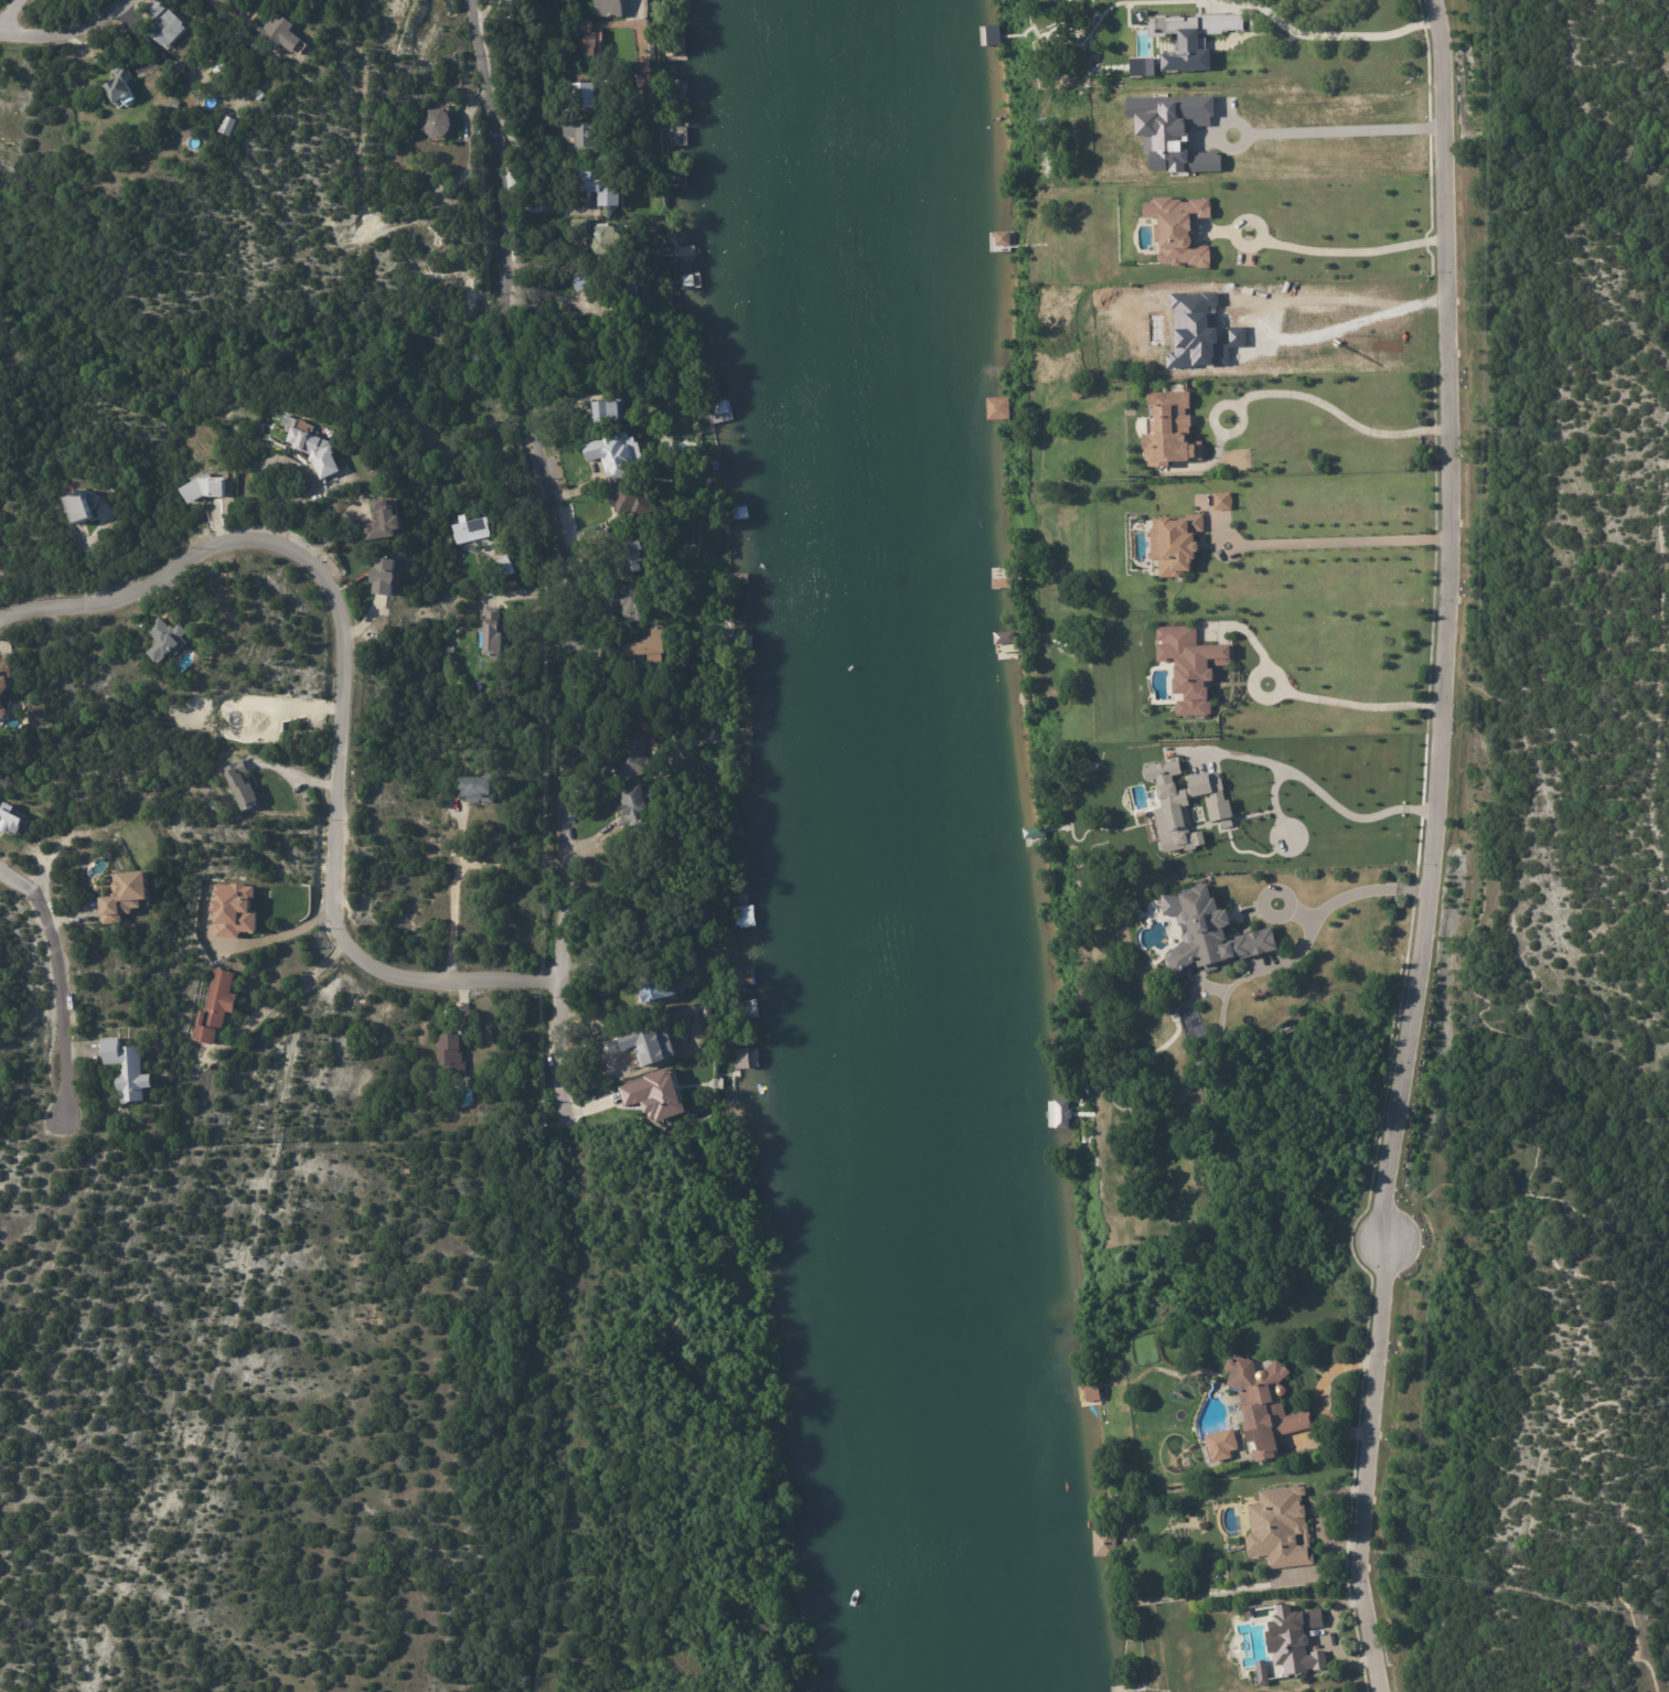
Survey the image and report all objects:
building: (607, 8)
road: (7, 11)
road: (225, 19)
road: (67, 22)
building: (165, 26)
road: (1315, 34)
building: (280, 35)
building: (1190, 36)
building: (586, 44)
building: (554, 75)
building: (122, 89)
building: (588, 96)
building: (176, 106)
building: (438, 124)
building: (226, 125)
road: (1349, 125)
building: (1171, 130)
building: (582, 135)
building: (603, 189)
building: (416, 200)
road: (1255, 223)
building: (580, 228)
building: (1177, 229)
road: (1215, 232)
building: (610, 240)
road: (1351, 250)
building: (612, 285)
road: (1362, 317)
road: (1296, 394)
building: (996, 408)
building: (608, 409)
building: (1174, 432)
building: (311, 446)
building: (619, 452)
building: (205, 490)
building: (1221, 500)
building: (638, 504)
building: (77, 507)
building: (384, 524)
building: (471, 532)
building: (1174, 543)
road: (1338, 543)
road: (553, 556)
building: (639, 558)
building: (506, 568)
building: (385, 578)
building: (640, 607)
road: (1447, 624)
road: (1241, 631)
building: (494, 635)
building: (1004, 636)
building: (168, 641)
building: (651, 650)
building: (1189, 666)
building: (6, 686)
road: (345, 690)
road: (1260, 698)
road: (1360, 704)
building: (632, 761)
building: (242, 785)
building: (477, 792)
road: (1328, 797)
building: (1184, 804)
building: (634, 806)
building: (10, 822)
river: (929, 847)
building: (619, 849)
road: (460, 869)
road: (1352, 897)
building: (127, 898)
building: (233, 910)
building: (745, 915)
road: (296, 932)
building: (1208, 932)
road: (64, 988)
building: (603, 992)
building: (660, 992)
road: (285, 993)
building: (217, 1009)
building: (635, 1042)
building: (452, 1054)
building: (741, 1058)
building: (128, 1073)
building: (653, 1094)
building: (1060, 1113)
building: (1092, 1390)
building: (1266, 1405)
building: (1221, 1444)
road: (1373, 1469)
building: (1279, 1528)
building: (1296, 1641)
building: (1261, 1671)
building: (1126, 1691)

